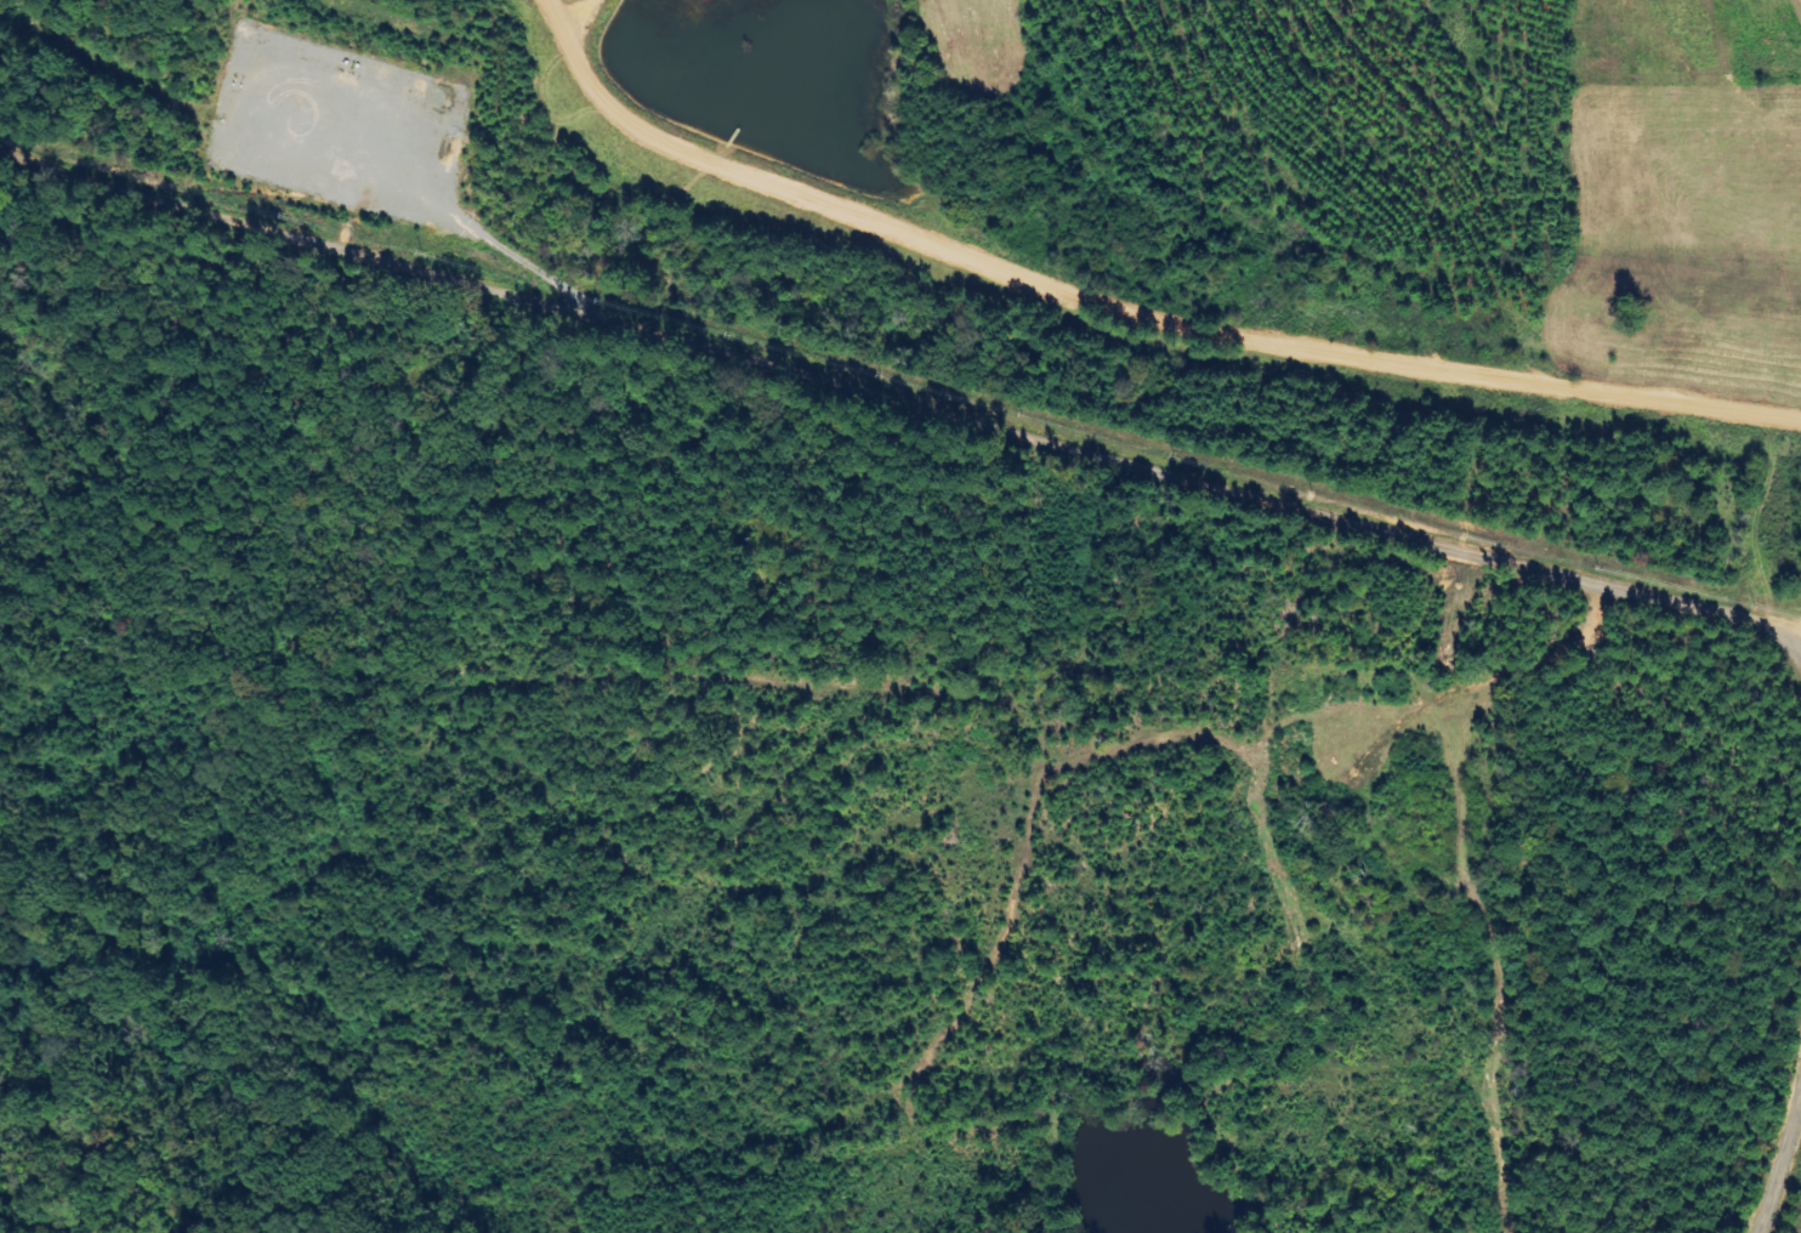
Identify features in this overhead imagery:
road: (899, 398)
road: (1779, 1163)

